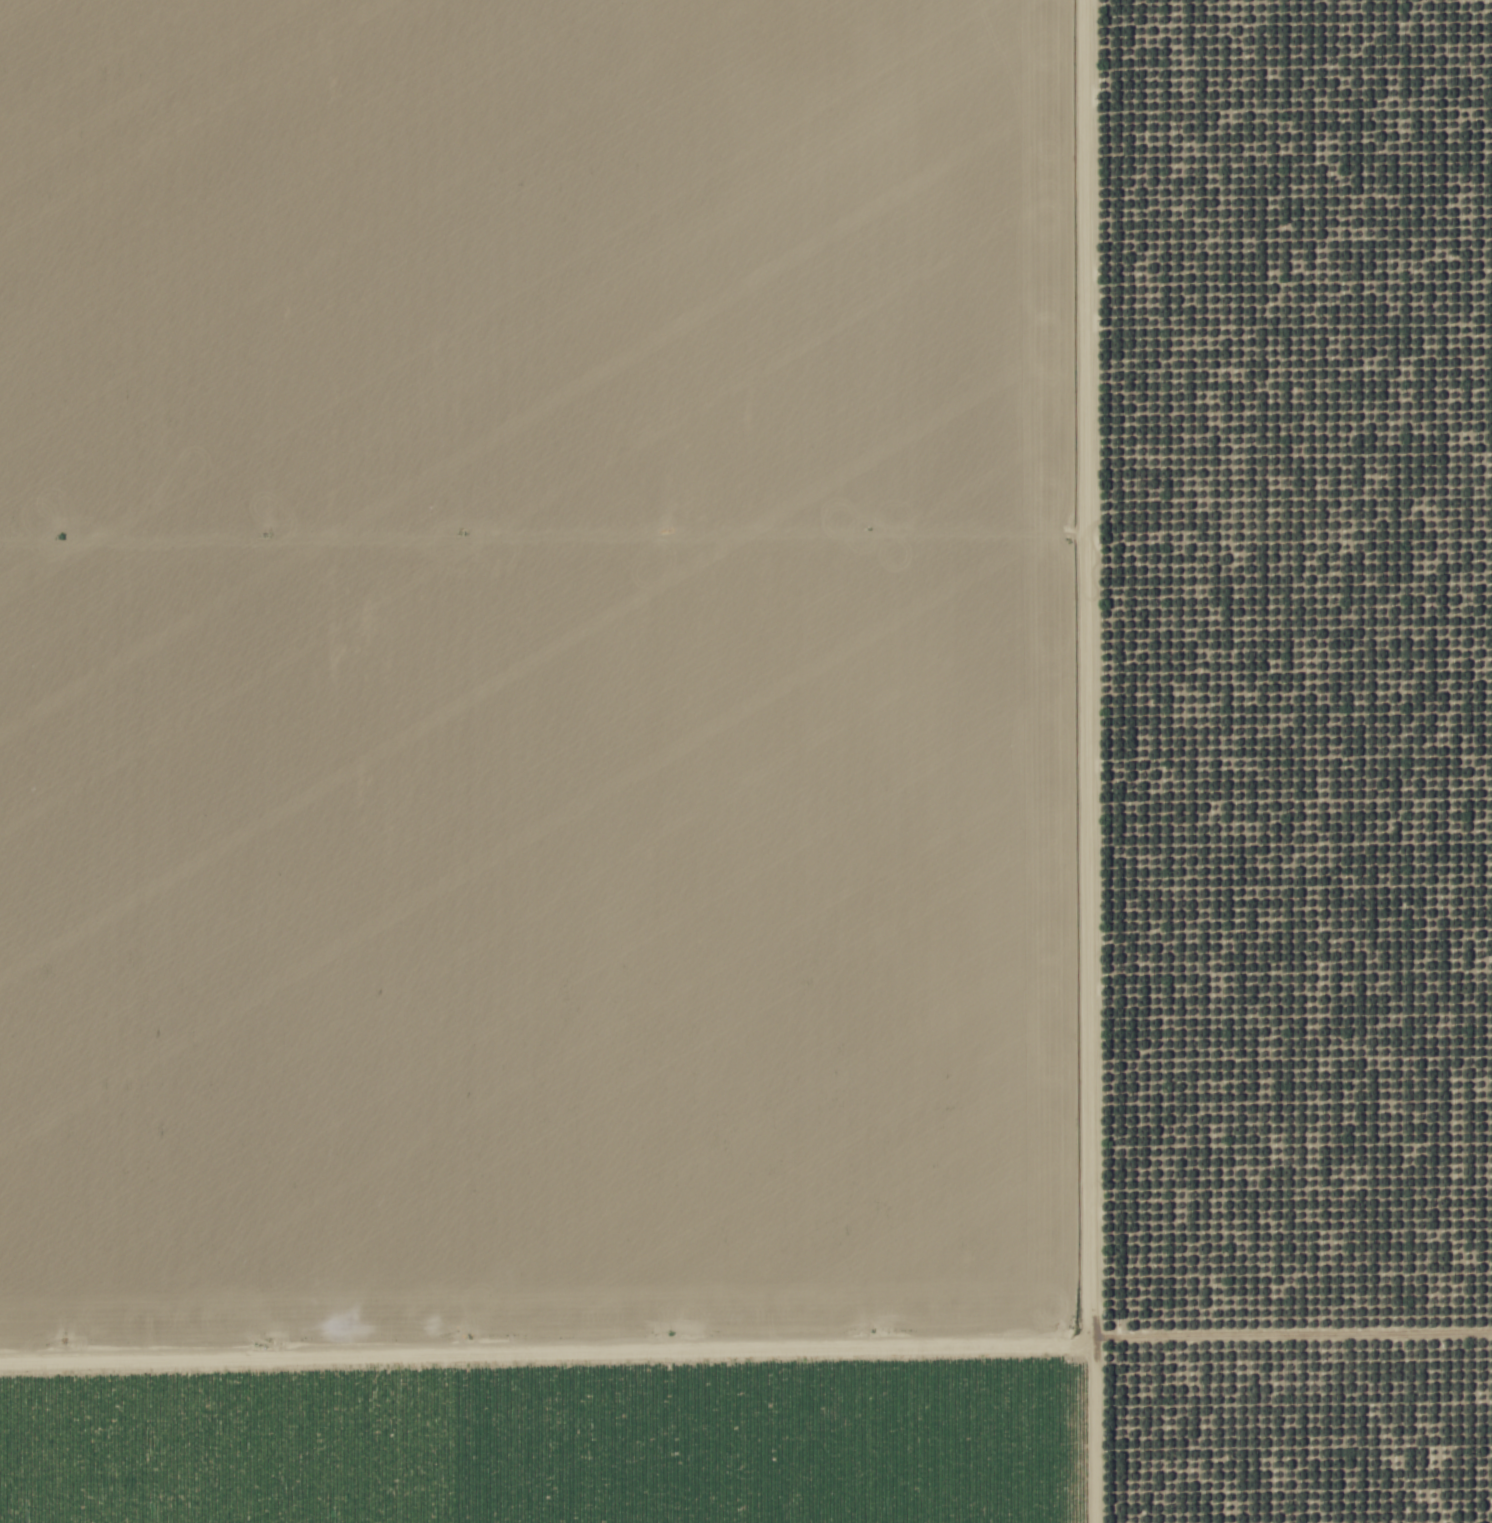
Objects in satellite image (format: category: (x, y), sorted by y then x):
crop: (541, 761)
road: (1080, 761)

